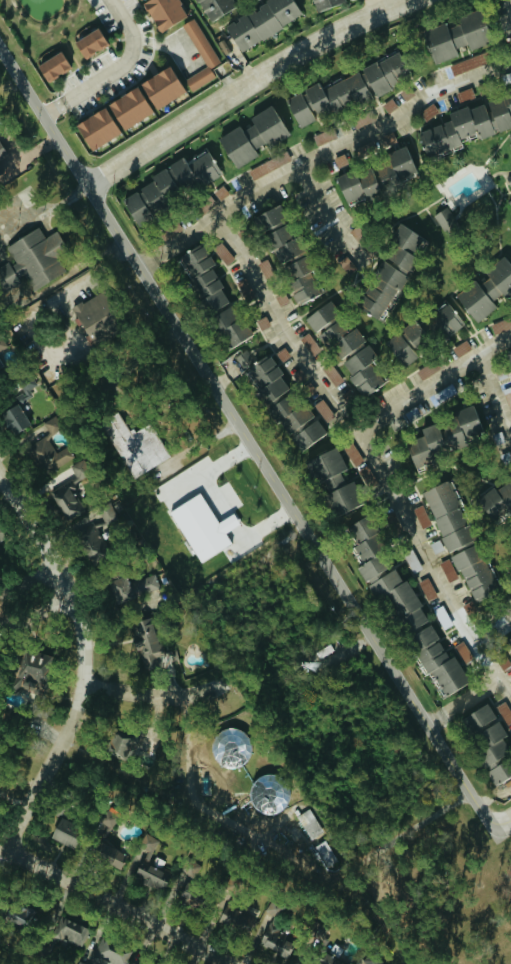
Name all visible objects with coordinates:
road: (510, 2)
building: (325, 4)
road: (373, 6)
building: (211, 7)
building: (163, 11)
building: (261, 21)
building: (455, 35)
building: (89, 41)
road: (163, 45)
building: (201, 54)
building: (469, 62)
building: (53, 64)
road: (113, 71)
road: (243, 84)
building: (161, 86)
building: (348, 87)
building: (128, 106)
building: (499, 109)
building: (364, 117)
building: (96, 127)
building: (455, 127)
building: (253, 135)
building: (325, 135)
building: (510, 143)
building: (2, 150)
road: (321, 156)
building: (397, 163)
building: (270, 164)
building: (0, 171)
building: (509, 178)
building: (171, 182)
building: (357, 183)
building: (510, 198)
building: (205, 204)
road: (44, 212)
building: (444, 216)
building: (265, 218)
road: (327, 218)
building: (170, 229)
building: (281, 241)
building: (33, 259)
building: (345, 265)
building: (389, 272)
building: (200, 273)
road: (64, 278)
building: (301, 278)
building: (487, 288)
road: (41, 310)
building: (321, 313)
building: (96, 316)
building: (444, 320)
building: (228, 323)
building: (501, 324)
building: (340, 338)
building: (309, 341)
building: (408, 342)
building: (283, 353)
building: (0, 355)
building: (509, 355)
road: (248, 361)
building: (428, 368)
building: (364, 369)
building: (263, 374)
road: (432, 380)
road: (496, 389)
building: (20, 407)
building: (297, 421)
building: (445, 435)
road: (200, 443)
building: (136, 444)
road: (248, 444)
building: (50, 449)
road: (369, 454)
building: (334, 480)
building: (69, 492)
building: (496, 499)
building: (448, 513)
building: (422, 515)
building: (203, 526)
building: (89, 534)
building: (366, 545)
building: (449, 569)
building: (474, 570)
road: (32, 582)
building: (133, 586)
building: (428, 587)
building: (399, 597)
road: (492, 628)
building: (148, 638)
building: (508, 641)
road: (86, 660)
building: (437, 660)
building: (27, 668)
road: (157, 694)
road: (463, 703)
building: (505, 711)
building: (486, 732)
building: (120, 746)
building: (499, 771)
building: (265, 795)
road: (508, 821)
building: (311, 823)
building: (65, 830)
building: (108, 853)
building: (151, 864)
building: (193, 867)
road: (115, 906)
building: (19, 913)
building: (234, 914)
building: (274, 937)
building: (68, 941)
building: (370, 960)

